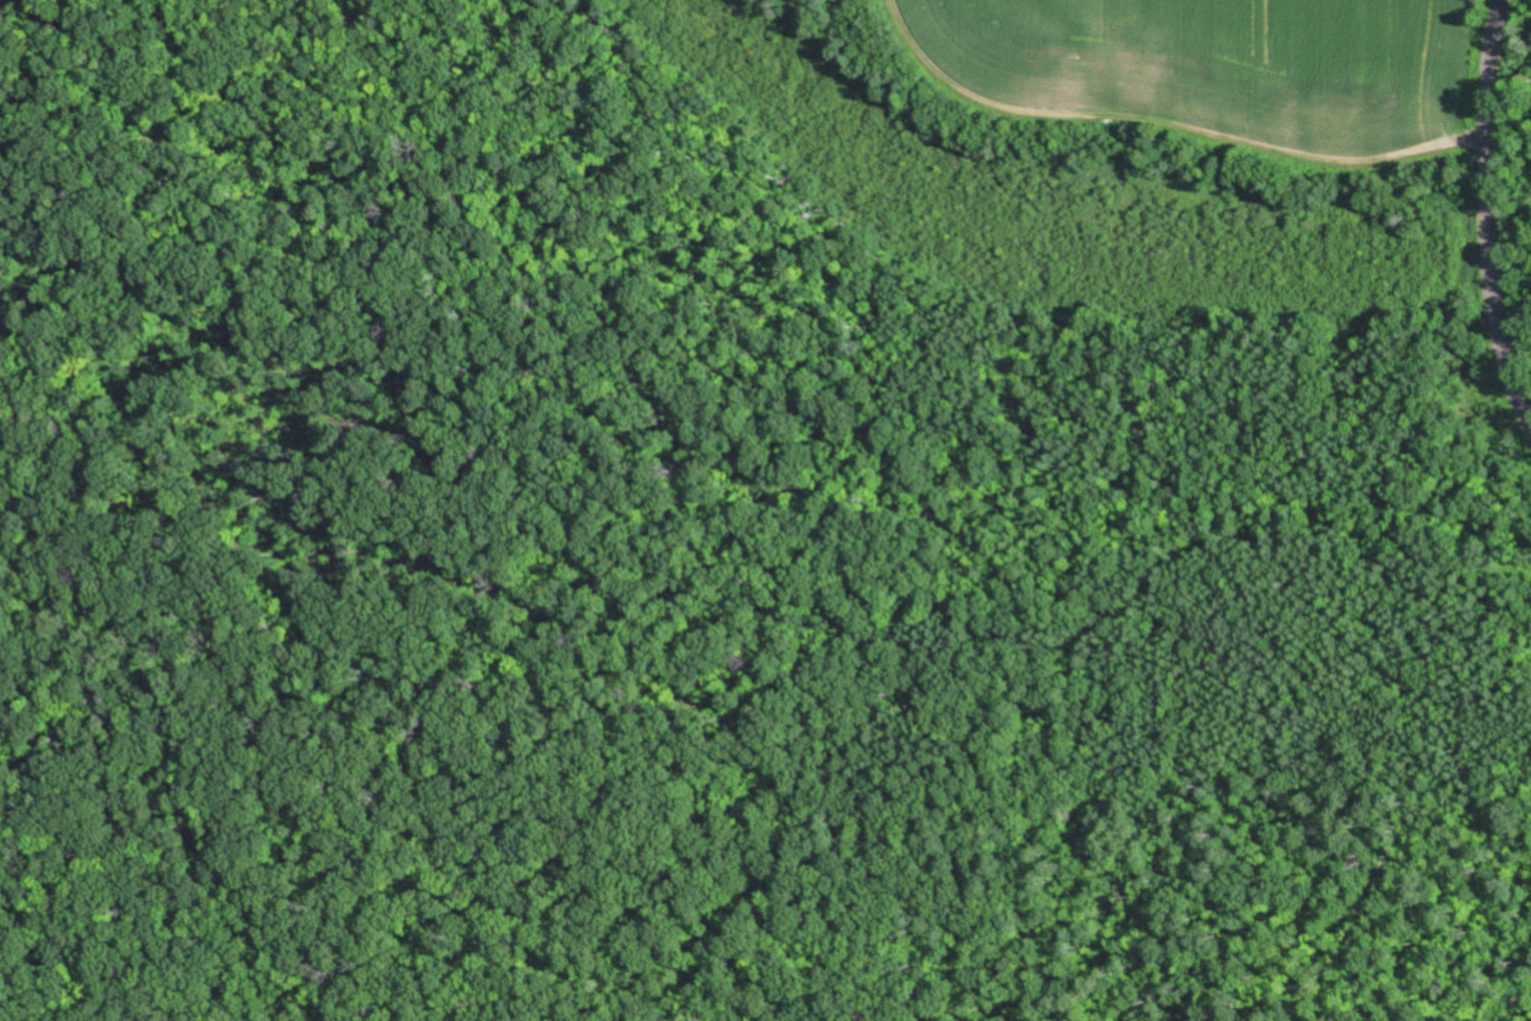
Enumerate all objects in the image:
road: (1489, 201)

